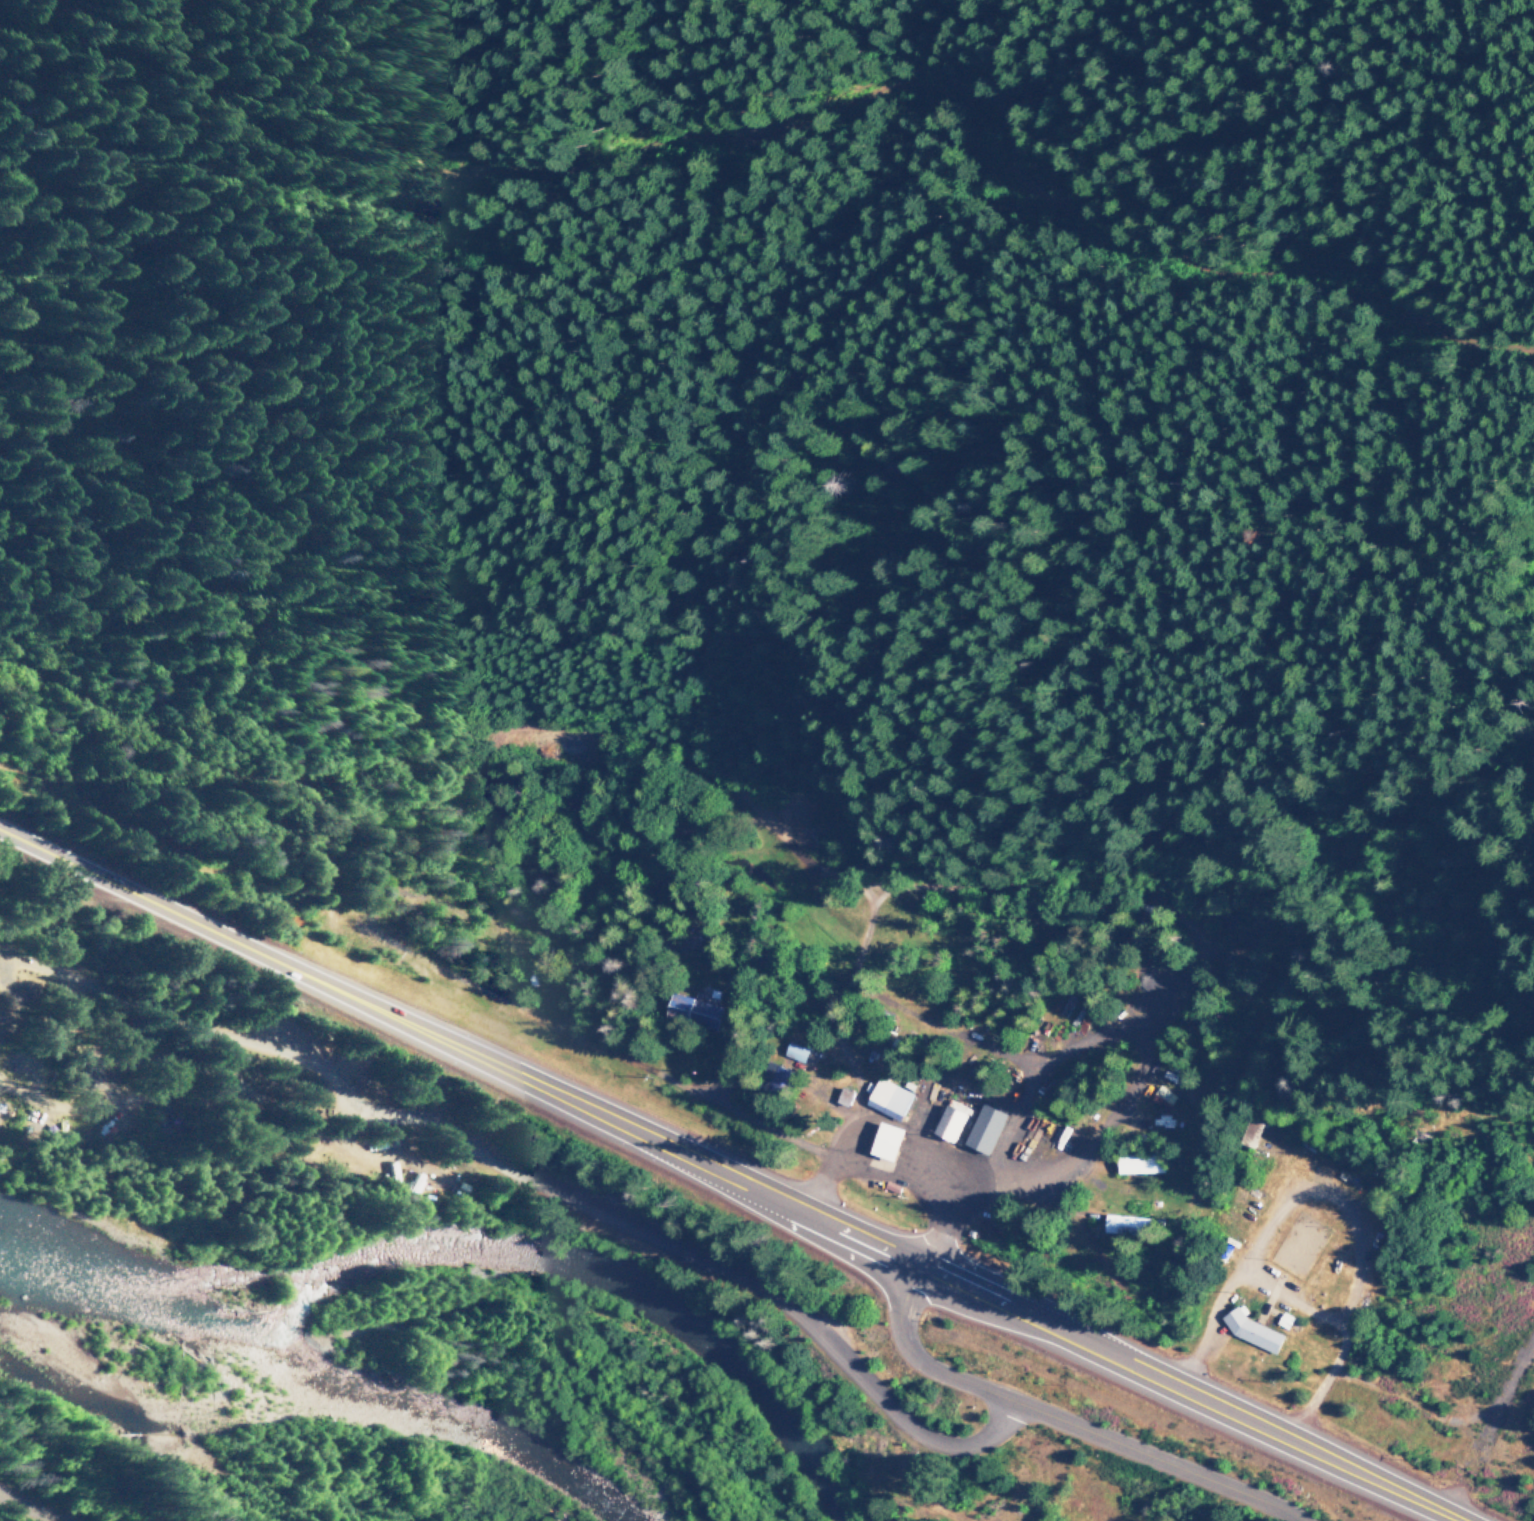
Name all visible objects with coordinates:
road: (645, 743)
building: (688, 939)
building: (691, 1011)
building: (793, 1052)
building: (1160, 1097)
building: (886, 1098)
road: (114, 1104)
building: (945, 1123)
building: (981, 1129)
building: (882, 1141)
road: (1079, 1157)
building: (1136, 1164)
road: (724, 1176)
road: (529, 1181)
road: (1276, 1205)
building: (1122, 1224)
river: (605, 1285)
building: (1249, 1331)
road: (1202, 1332)
river: (314, 1375)
road: (1317, 1389)
road: (1486, 1415)
road: (1053, 1422)
road: (24, 1508)

